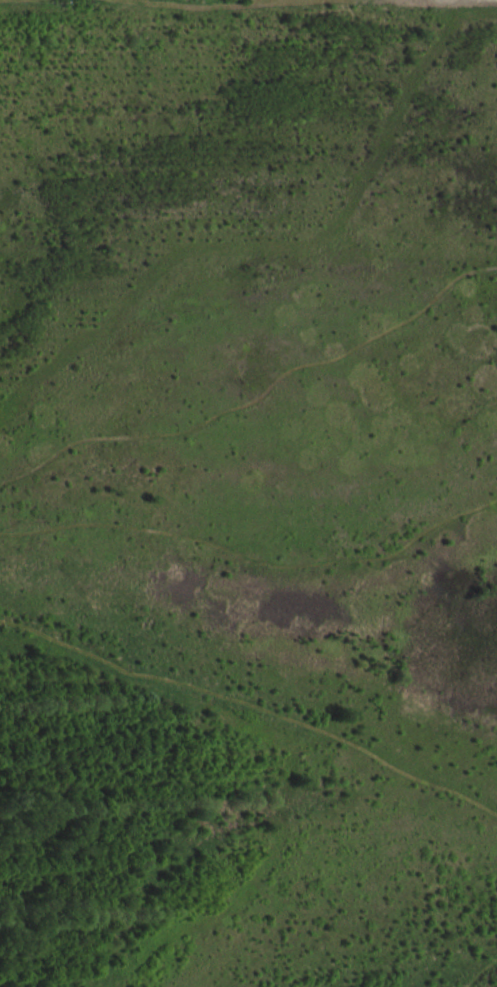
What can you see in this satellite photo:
road: (256, 399)
road: (253, 552)
road: (253, 706)
road: (483, 972)

